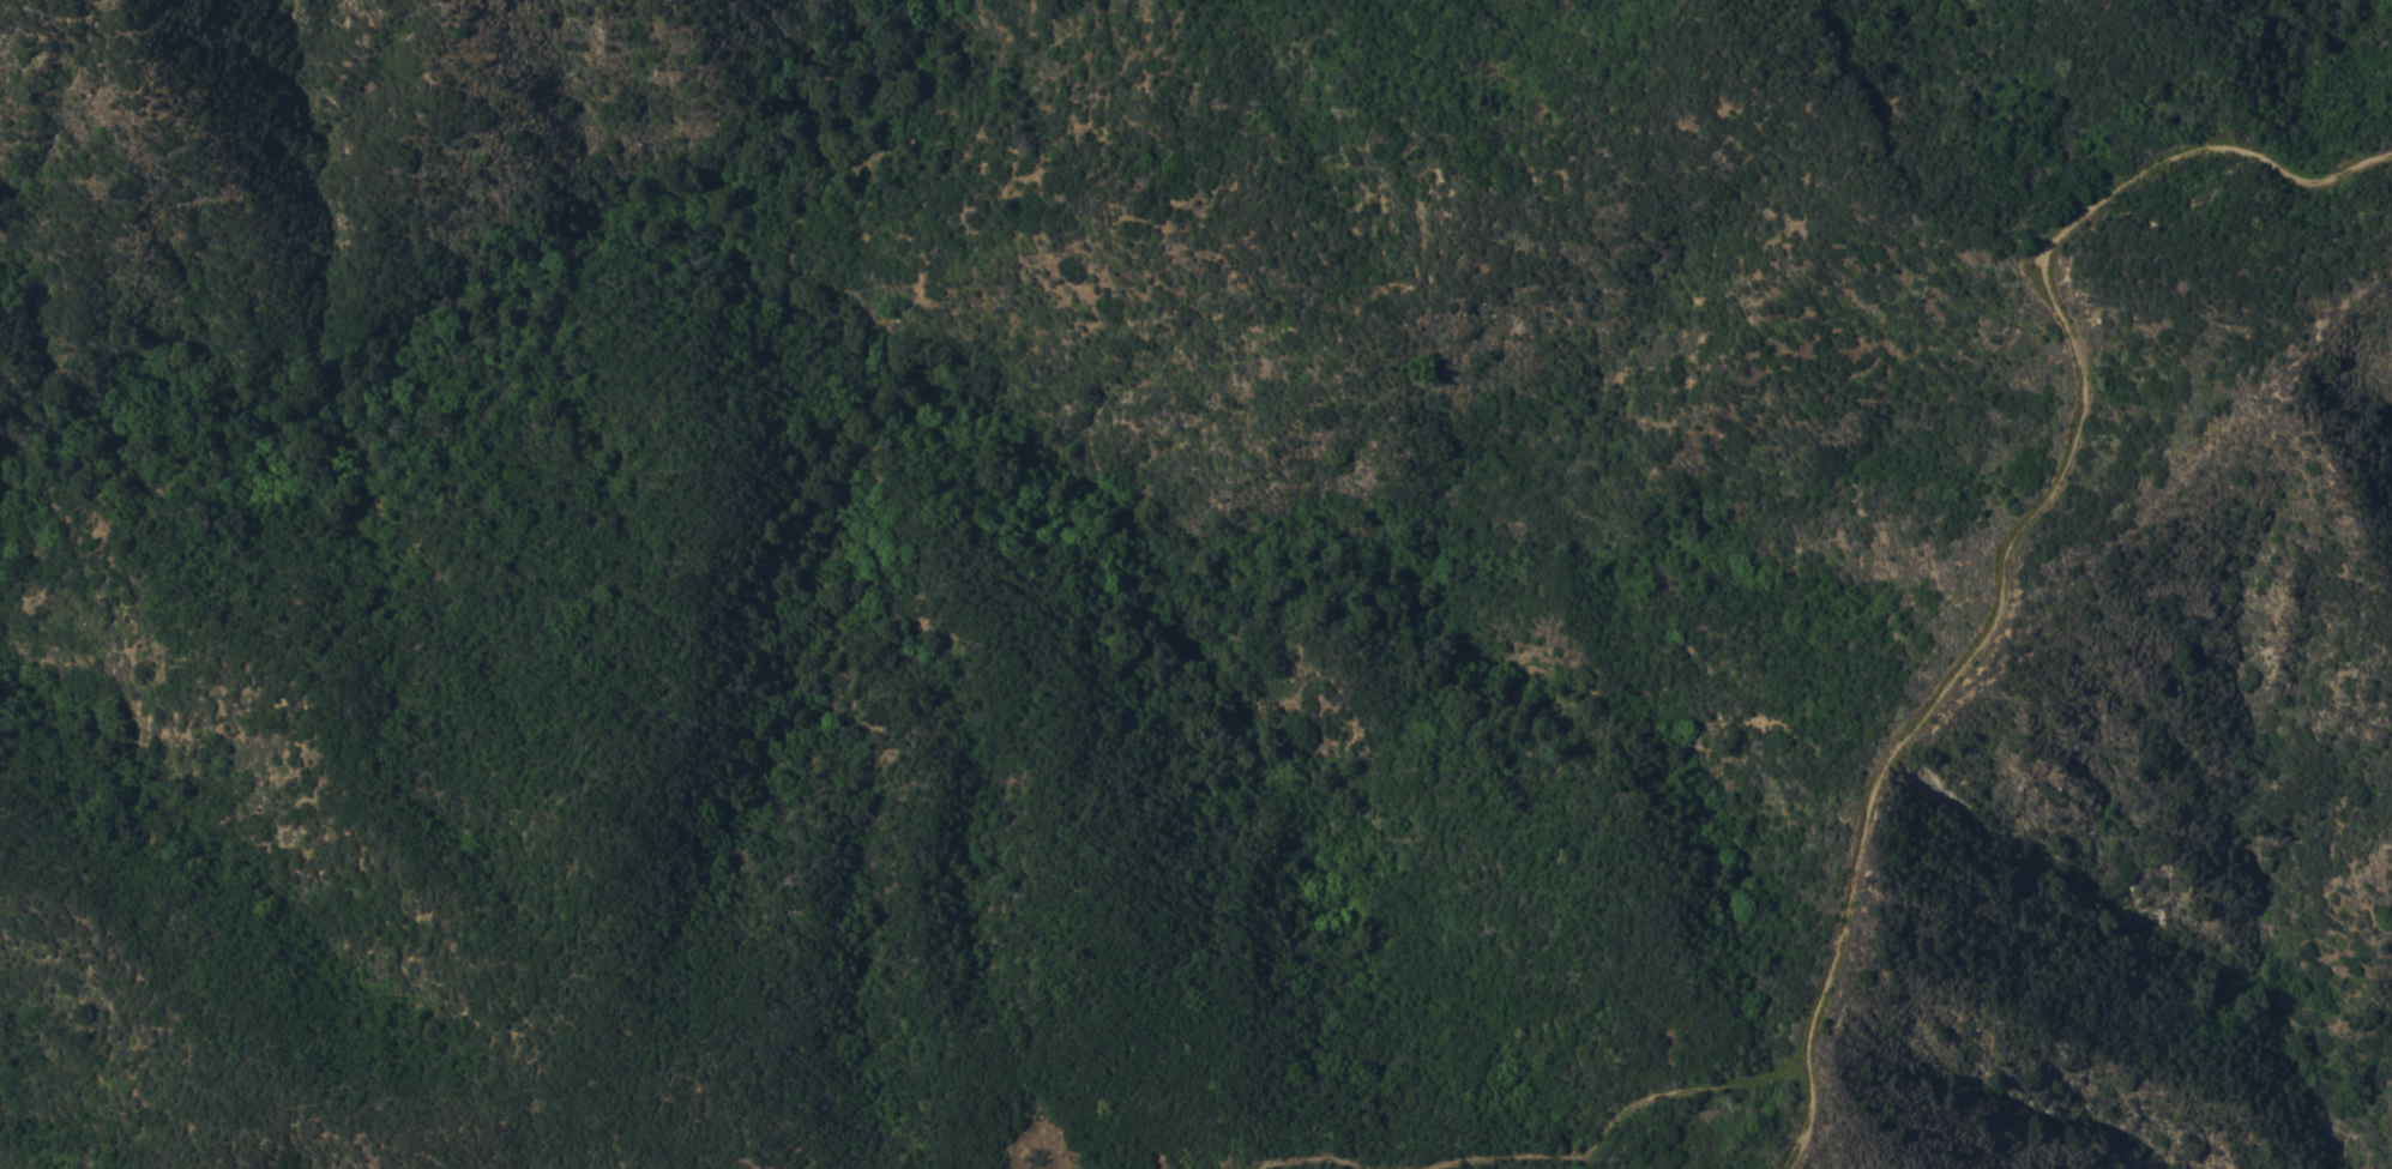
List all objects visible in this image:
road: (2048, 490)
road: (1615, 1121)
road: (1806, 1123)
road: (1313, 1163)

